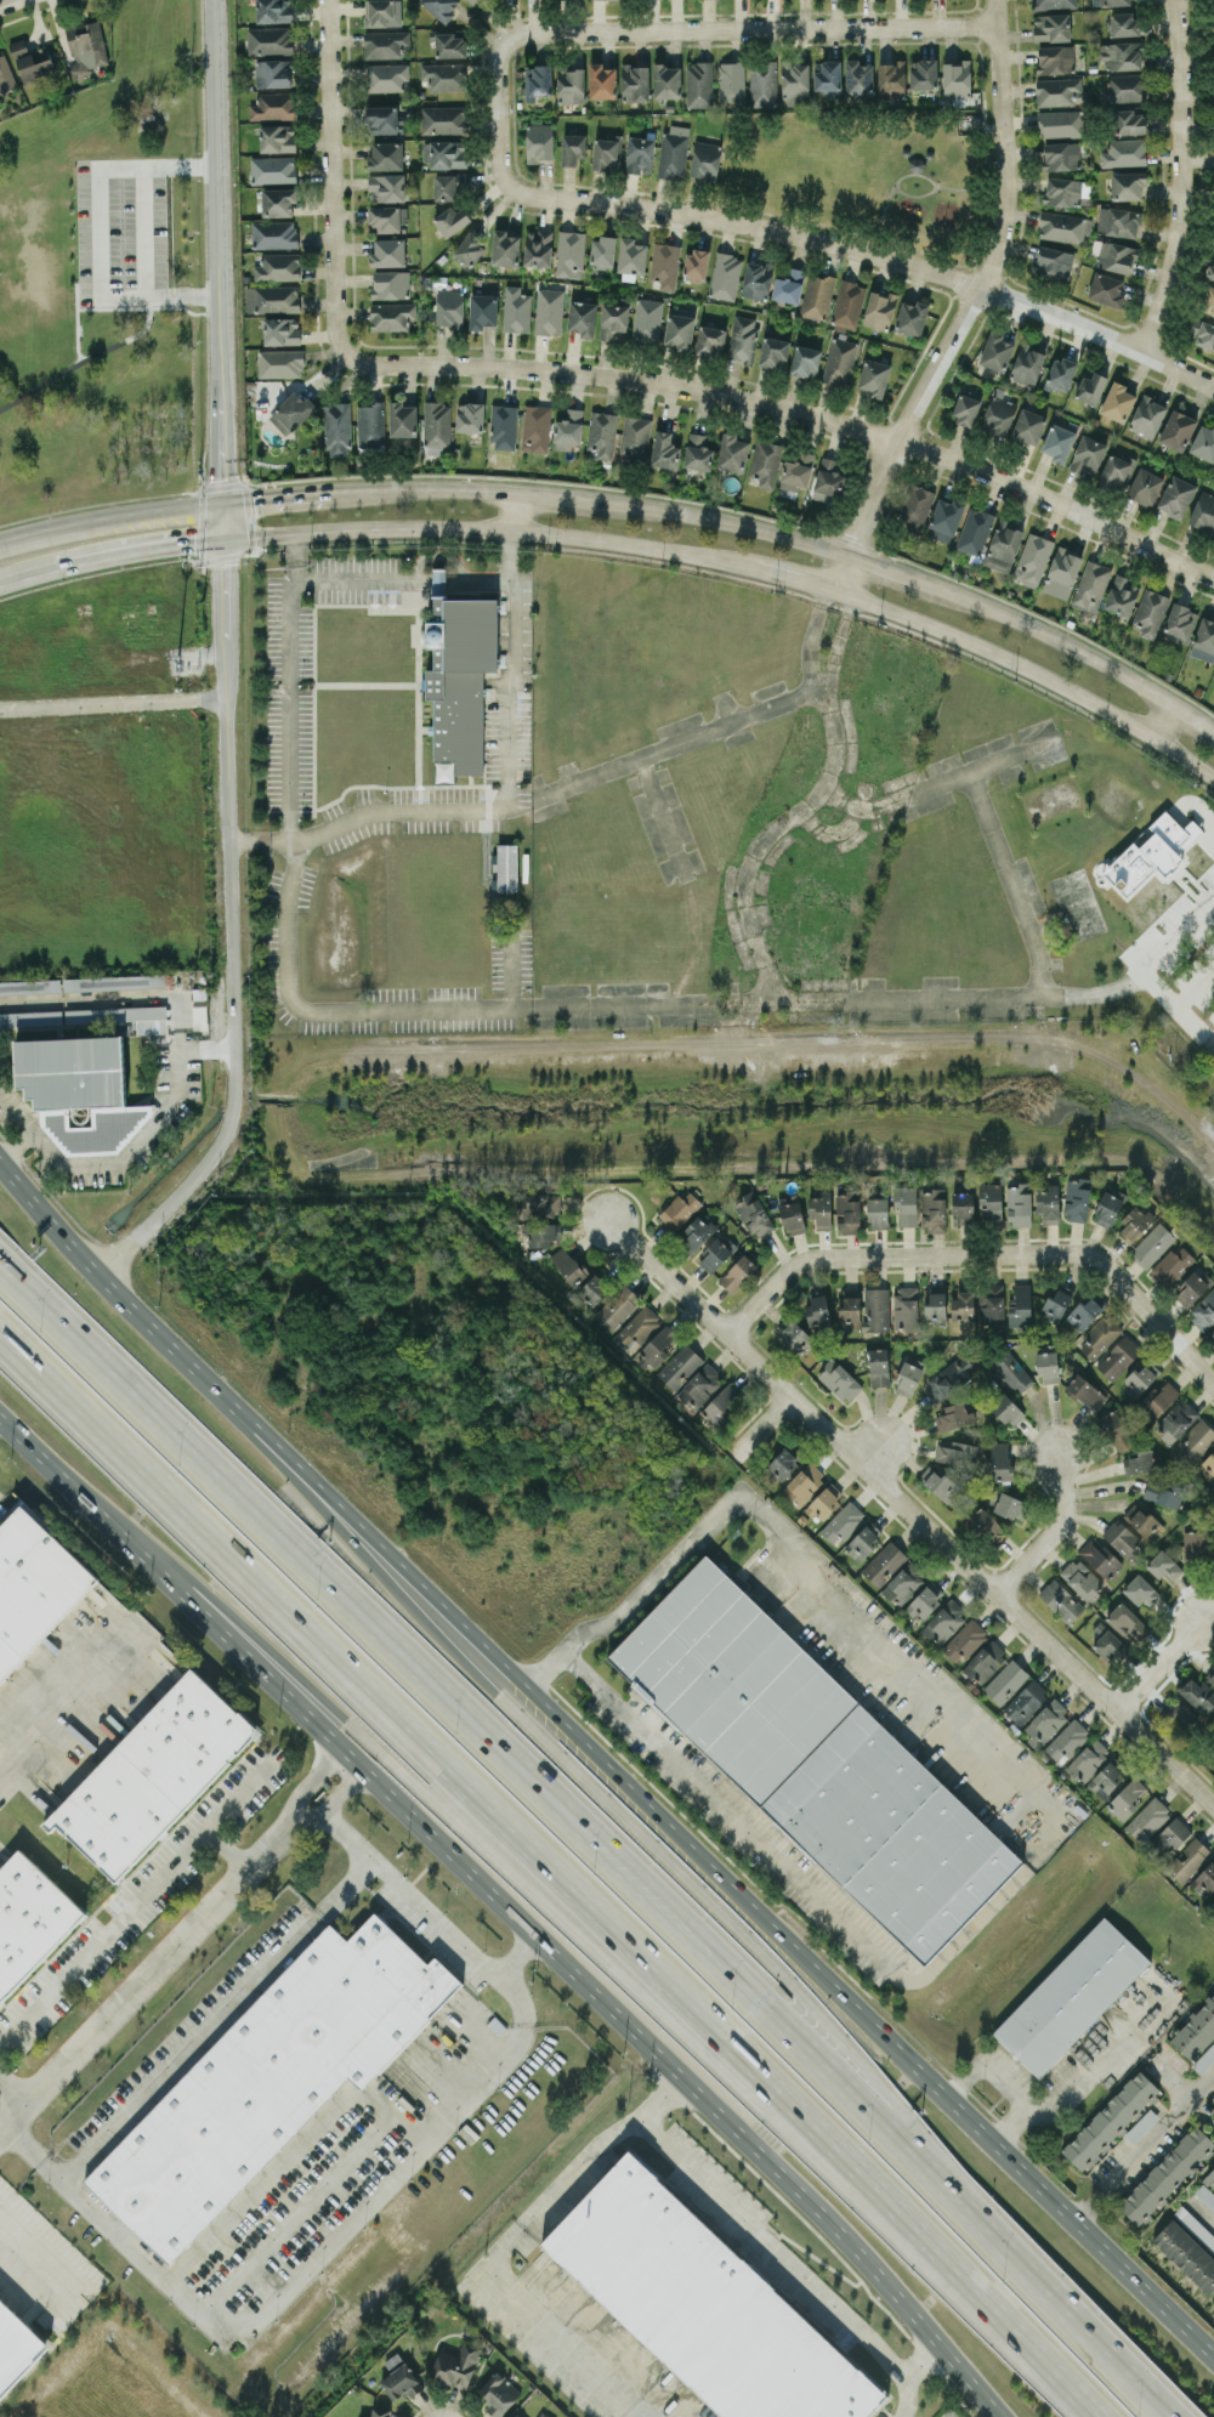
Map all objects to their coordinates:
building: (471, 1)
road: (8, 2)
building: (1111, 2)
building: (1213, 2)
building: (1053, 4)
building: (441, 7)
building: (274, 10)
building: (378, 12)
building: (1124, 24)
building: (1051, 27)
road: (755, 29)
building: (270, 40)
building: (385, 44)
building: (450, 45)
building: (86, 46)
building: (1121, 55)
building: (1055, 58)
building: (32, 59)
building: (274, 73)
building: (923, 73)
building: (6, 75)
building: (446, 75)
building: (386, 76)
building: (827, 78)
building: (858, 78)
building: (891, 78)
building: (957, 78)
building: (602, 80)
building: (666, 80)
building: (537, 81)
building: (634, 81)
building: (731, 83)
building: (762, 83)
building: (795, 83)
building: (571, 84)
building: (698, 84)
building: (1127, 86)
building: (1059, 91)
building: (273, 106)
building: (382, 119)
building: (443, 119)
building: (1128, 121)
building: (1061, 123)
building: (277, 137)
building: (539, 141)
building: (572, 148)
building: (1124, 152)
building: (444, 153)
building: (605, 153)
building: (385, 154)
building: (640, 154)
building: (673, 154)
building: (1060, 155)
building: (705, 159)
building: (273, 169)
park: (860, 171)
road: (1184, 178)
road: (331, 180)
building: (449, 185)
building: (1127, 185)
building: (386, 187)
road: (970, 189)
building: (1066, 191)
road: (887, 194)
road: (913, 194)
building: (278, 202)
building: (388, 219)
building: (450, 220)
building: (1118, 221)
building: (1063, 227)
road: (135, 231)
parking lot: (149, 231)
road: (98, 232)
road: (168, 232)
building: (274, 233)
road: (798, 233)
building: (538, 246)
building: (505, 248)
building: (469, 249)
building: (602, 249)
road: (220, 251)
building: (387, 251)
building: (569, 254)
building: (1116, 256)
building: (631, 257)
building: (1055, 261)
building: (696, 262)
building: (664, 265)
building: (278, 267)
building: (1212, 272)
building: (725, 276)
building: (756, 279)
building: (390, 284)
building: (789, 285)
building: (1106, 289)
building: (817, 295)
building: (276, 297)
building: (1209, 301)
building: (849, 305)
road: (971, 306)
building: (449, 307)
building: (482, 310)
building: (516, 310)
building: (879, 310)
building: (549, 311)
building: (391, 316)
building: (912, 317)
building: (583, 318)
building: (647, 320)
building: (614, 322)
building: (282, 330)
building: (679, 330)
building: (1203, 333)
building: (742, 337)
building: (710, 340)
building: (995, 351)
building: (773, 352)
road: (86, 358)
building: (805, 361)
building: (839, 361)
building: (280, 363)
building: (1027, 363)
building: (1060, 374)
building: (873, 376)
building: (1090, 387)
building: (1117, 401)
road: (795, 410)
building: (965, 410)
building: (291, 412)
building: (998, 415)
building: (470, 416)
building: (1146, 416)
building: (402, 419)
building: (437, 424)
building: (370, 425)
building: (503, 426)
building: (1028, 426)
building: (535, 427)
building: (336, 429)
building: (568, 430)
building: (1178, 430)
building: (602, 432)
building: (635, 437)
building: (1057, 442)
building: (1203, 442)
building: (664, 449)
building: (698, 452)
building: (732, 452)
building: (1088, 454)
building: (765, 463)
building: (798, 469)
building: (1114, 471)
building: (828, 480)
building: (1145, 486)
building: (1175, 495)
building: (914, 506)
building: (1203, 510)
road: (512, 511)
road: (135, 517)
building: (946, 518)
road: (225, 520)
road: (741, 524)
road: (401, 526)
building: (974, 531)
road: (260, 534)
road: (23, 538)
road: (509, 538)
road: (294, 544)
building: (1003, 545)
road: (632, 546)
road: (141, 549)
building: (1032, 558)
road: (28, 571)
building: (1061, 572)
road: (416, 577)
road: (796, 577)
building: (1091, 585)
building: (1122, 595)
building: (1150, 613)
building: (1179, 623)
building: (1204, 640)
road: (1031, 671)
building: (460, 680)
road: (817, 683)
road: (114, 704)
road: (291, 708)
road: (1162, 721)
road: (720, 725)
road: (521, 796)
road: (509, 799)
road: (805, 805)
road: (250, 836)
building: (1148, 853)
building: (506, 866)
road: (233, 930)
building: (113, 981)
building: (29, 986)
road: (142, 995)
road: (687, 1002)
road: (1178, 1009)
building: (199, 1010)
building: (126, 1016)
building: (30, 1017)
building: (80, 1091)
road: (15, 1140)
road: (112, 1161)
building: (1077, 1198)
building: (991, 1199)
building: (1048, 1203)
building: (906, 1204)
building: (1019, 1204)
building: (1108, 1205)
building: (964, 1207)
building: (679, 1209)
building: (821, 1209)
building: (847, 1210)
building: (934, 1210)
building: (878, 1212)
building: (753, 1214)
building: (793, 1215)
building: (540, 1218)
building: (1134, 1222)
building: (697, 1231)
building: (1152, 1244)
road: (878, 1250)
building: (715, 1253)
building: (568, 1264)
building: (1173, 1265)
building: (737, 1272)
building: (1192, 1287)
building: (592, 1288)
road: (1141, 1297)
building: (992, 1300)
building: (1056, 1301)
building: (963, 1303)
building: (935, 1305)
building: (1020, 1305)
building: (617, 1306)
building: (817, 1307)
building: (850, 1307)
building: (906, 1307)
building: (875, 1309)
building: (1203, 1311)
building: (1084, 1312)
building: (637, 1327)
building: (793, 1333)
building: (1212, 1334)
building: (1100, 1335)
building: (659, 1344)
building: (1118, 1357)
building: (680, 1366)
building: (878, 1366)
building: (1048, 1366)
building: (1011, 1371)
building: (908, 1377)
building: (947, 1378)
building: (1140, 1378)
building: (839, 1380)
building: (700, 1385)
building: (1085, 1391)
building: (1158, 1397)
building: (721, 1405)
building: (1006, 1409)
building: (954, 1415)
building: (1176, 1420)
road: (761, 1424)
building: (1114, 1430)
building: (1195, 1441)
road: (874, 1446)
building: (955, 1453)
building: (1000, 1459)
building: (1139, 1460)
building: (779, 1464)
building: (1209, 1466)
building: (937, 1482)
building: (802, 1483)
building: (1163, 1494)
building: (824, 1500)
building: (1006, 1503)
road: (913, 1508)
building: (1144, 1521)
building: (843, 1522)
building: (986, 1526)
road: (1054, 1531)
building: (1123, 1539)
building: (862, 1541)
building: (1196, 1541)
road: (781, 1545)
building: (1100, 1558)
building: (1212, 1559)
building: (884, 1562)
building: (1164, 1566)
building: (1080, 1578)
building: (904, 1583)
building: (34, 1584)
building: (1140, 1590)
building: (925, 1599)
building: (1060, 1600)
building: (1125, 1621)
building: (944, 1622)
building: (964, 1640)
building: (1105, 1642)
building: (985, 1661)
road: (1159, 1666)
building: (1212, 1678)
building: (1005, 1681)
building: (1198, 1693)
building: (1026, 1701)
road: (61, 1707)
road: (441, 1708)
building: (1176, 1712)
building: (1045, 1721)
building: (1066, 1740)
building: (1213, 1752)
road: (403, 1755)
road: (602, 1757)
building: (813, 1759)
building: (1088, 1759)
road: (549, 1760)
building: (153, 1774)
road: (316, 1777)
building: (1106, 1778)
road: (333, 1793)
building: (1128, 1797)
road: (728, 1810)
building: (1147, 1817)
building: (1174, 1832)
road: (225, 1849)
road: (565, 1856)
building: (1189, 1859)
building: (1204, 1879)
road: (142, 1893)
road: (512, 1905)
building: (1212, 1905)
building: (29, 1918)
road: (517, 1951)
road: (147, 1971)
building: (1071, 1997)
road: (216, 2018)
building: (1196, 2030)
building: (1204, 2059)
road: (1084, 2070)
road: (992, 2071)
road: (482, 2075)
building: (270, 2078)
road: (12, 2088)
building: (1213, 2099)
building: (1110, 2120)
building: (1141, 2124)
road: (599, 2143)
road: (1145, 2145)
road: (276, 2168)
building: (1165, 2174)
building: (1210, 2177)
building: (1206, 2195)
road: (307, 2200)
road: (1208, 2214)
building: (1195, 2225)
road: (115, 2229)
road: (773, 2245)
road: (35, 2253)
building: (1186, 2254)
road: (1021, 2276)
building: (1213, 2299)
building: (703, 2304)
road: (539, 2322)
building: (16, 2347)
building: (392, 2360)
building: (456, 2364)
road: (904, 2371)
building: (402, 2381)
building: (498, 2393)
building: (379, 2412)
building: (543, 2415)
building: (512, 2416)

